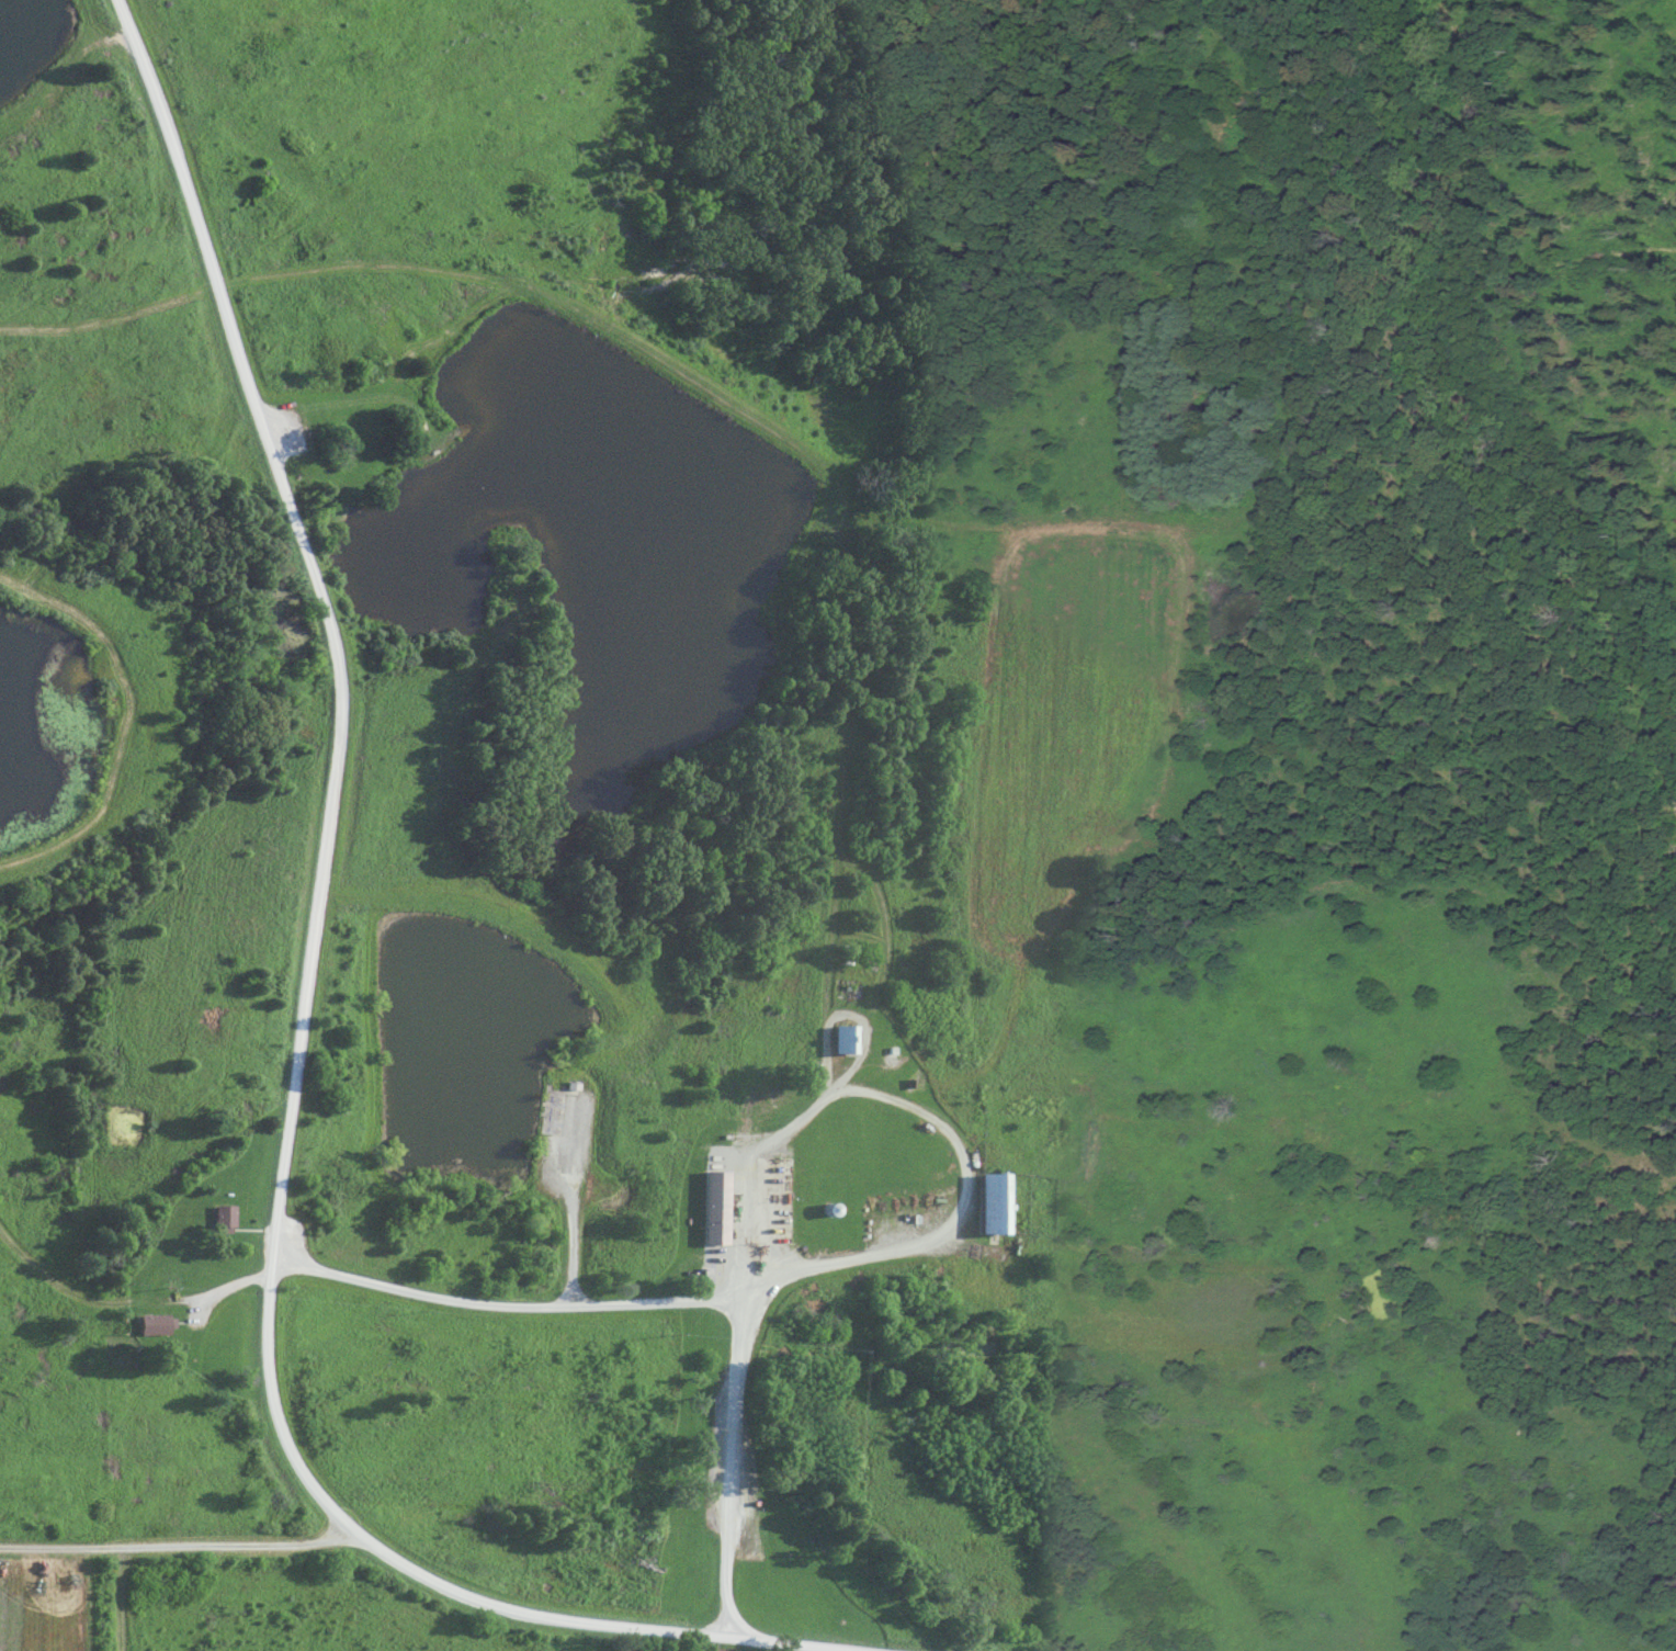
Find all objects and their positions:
road: (301, 1036)
building: (835, 1040)
road: (924, 1120)
building: (985, 1205)
road: (569, 1206)
building: (704, 1209)
building: (819, 1211)
building: (219, 1219)
road: (503, 1308)
building: (150, 1326)
road: (727, 1462)

